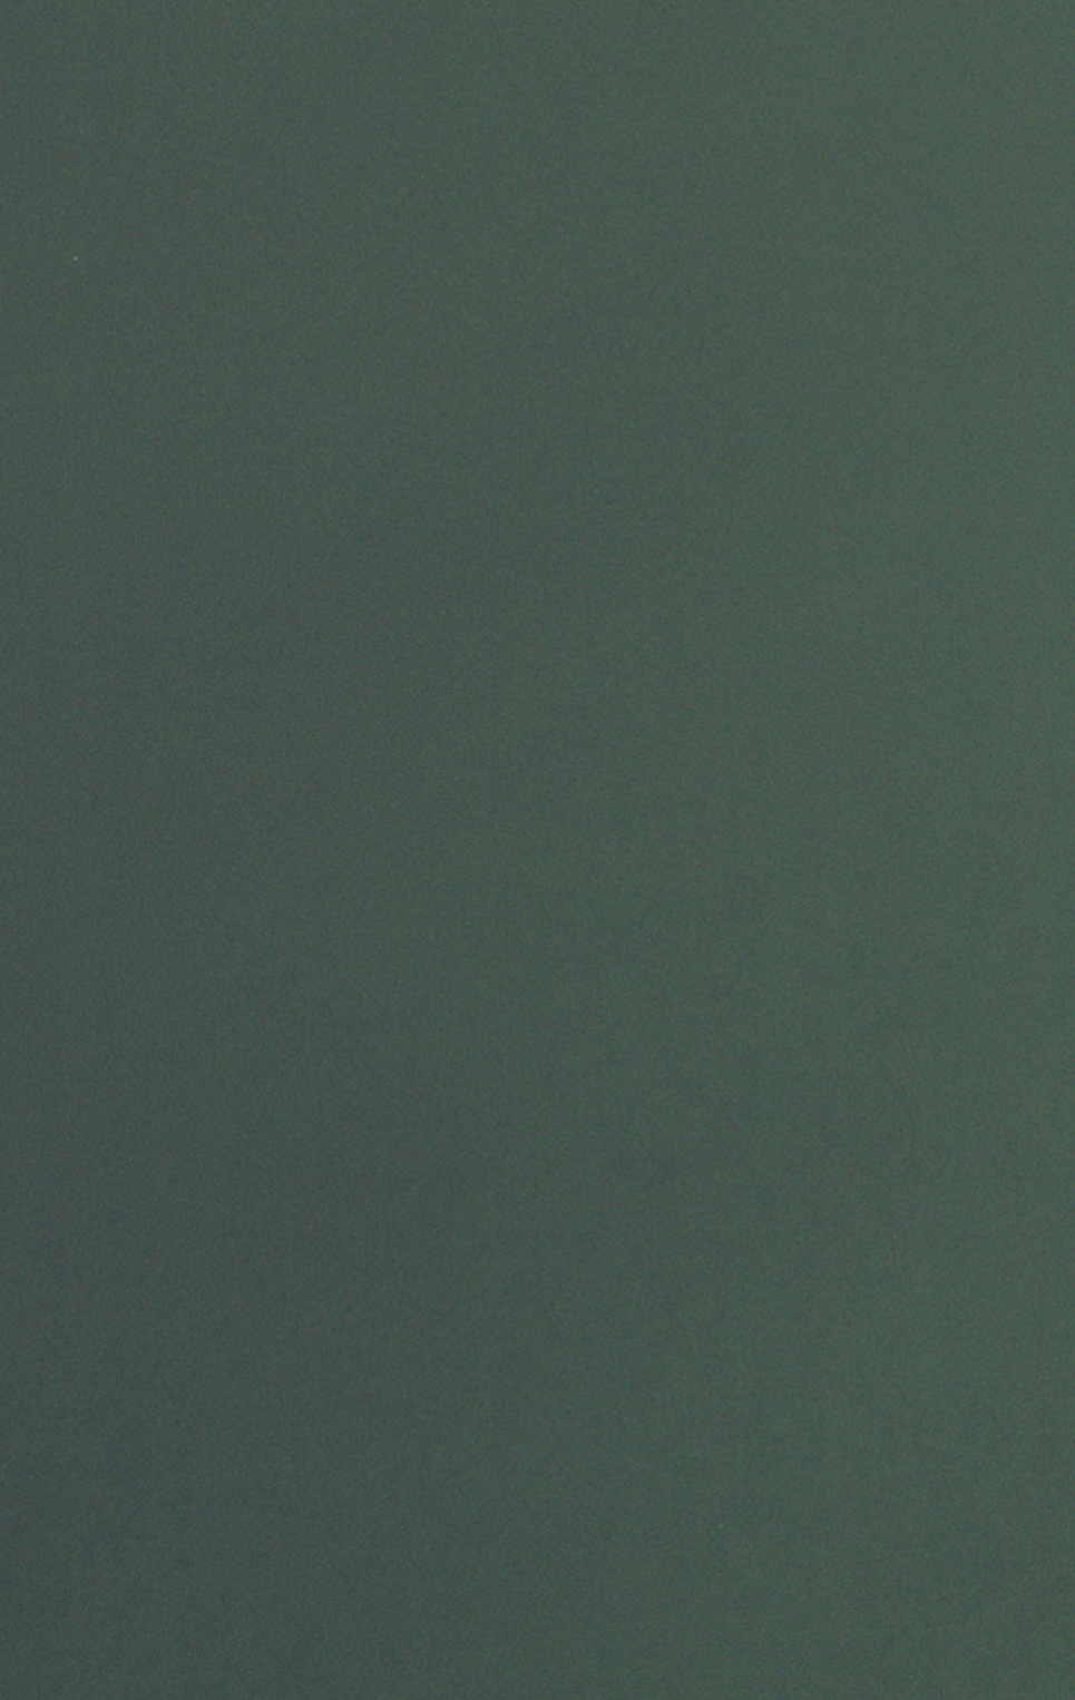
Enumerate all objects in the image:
river: (448, 685)

